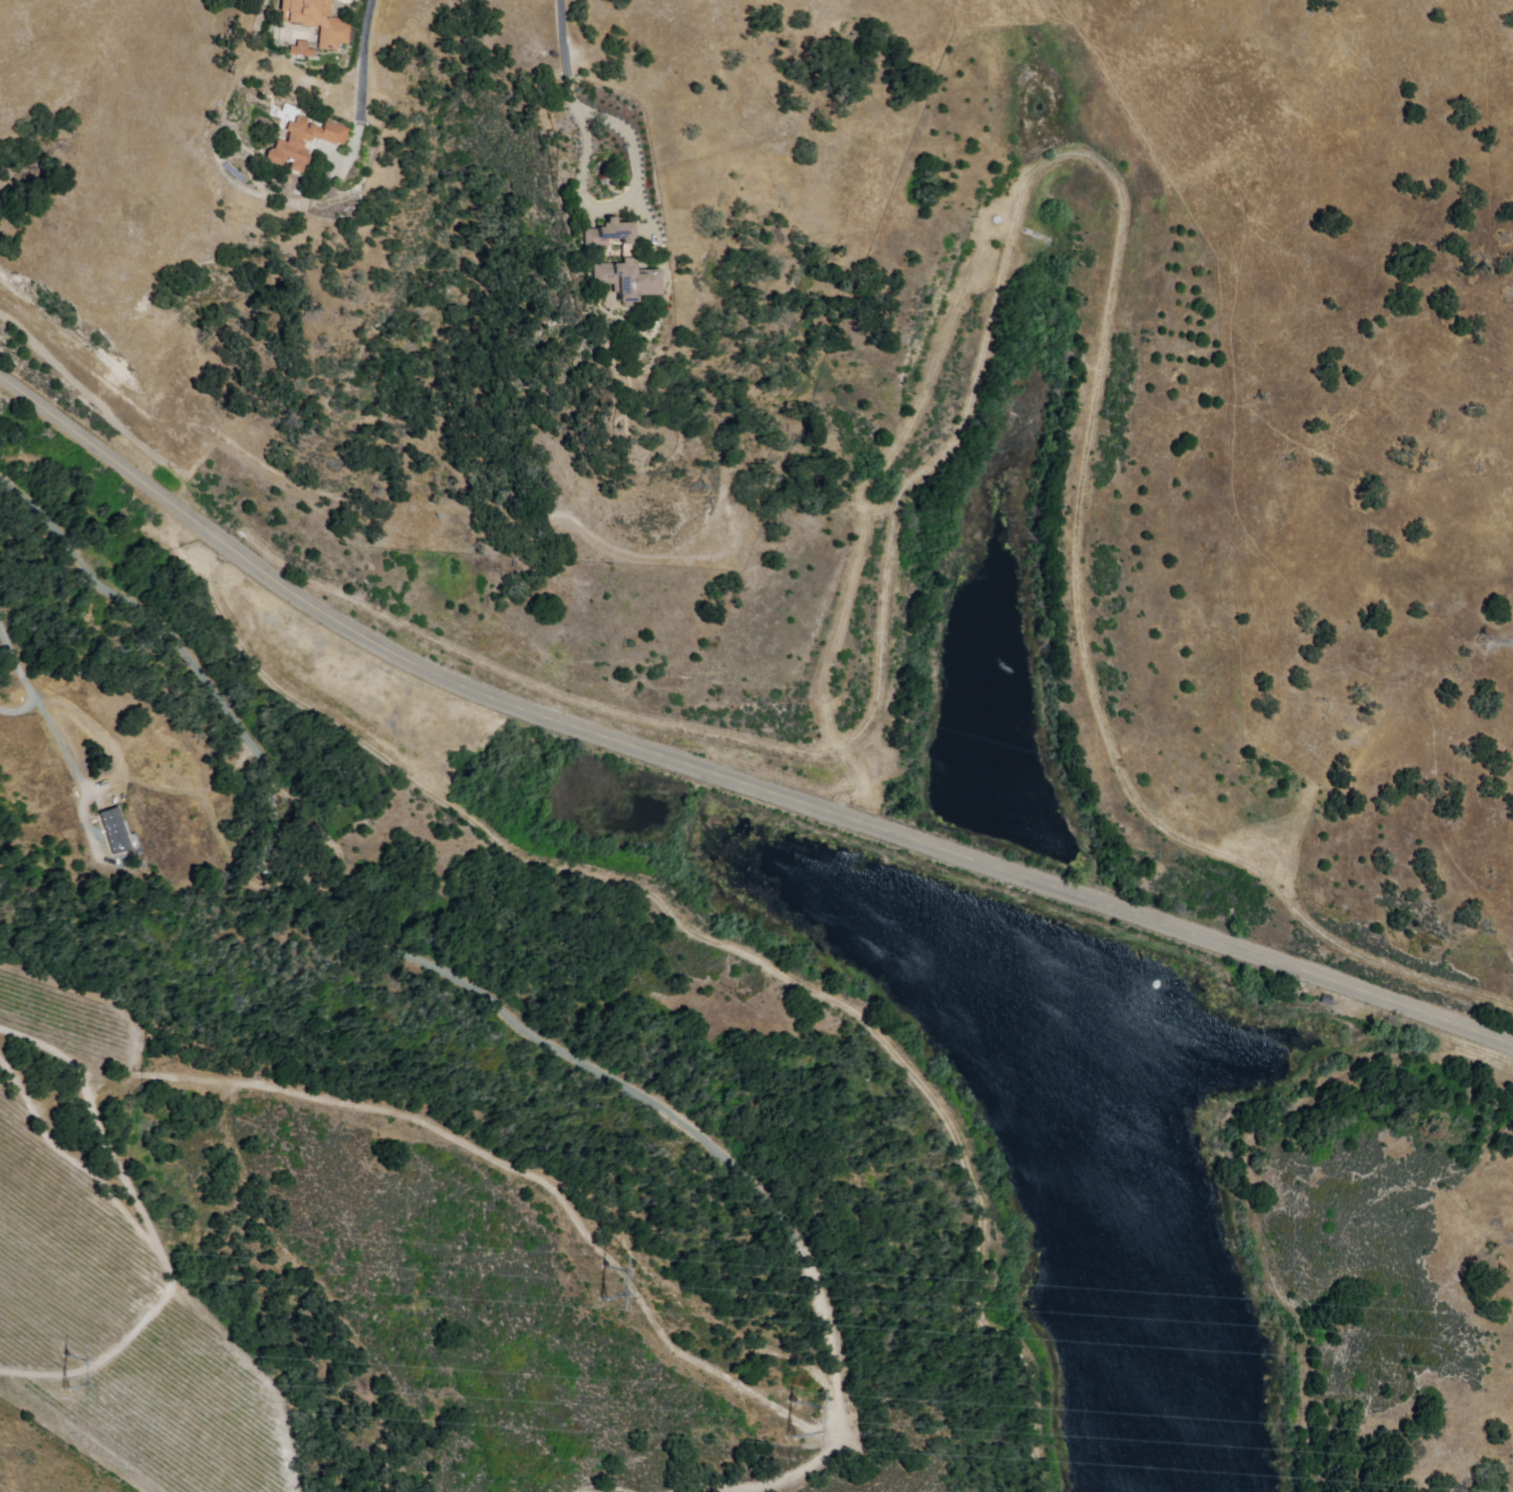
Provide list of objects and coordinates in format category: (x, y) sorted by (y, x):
building: (315, 21)
building: (300, 50)
road: (363, 60)
road: (575, 90)
building: (302, 144)
building: (618, 262)
power tower: (1486, 631)
road: (25, 680)
road: (723, 775)
road: (119, 778)
road: (196, 794)
building: (115, 830)
building: (267, 854)
road: (726, 945)
road: (422, 960)
road: (503, 1166)
road: (152, 1232)
power tower: (615, 1291)
power tower: (55, 1368)
power tower: (790, 1412)
road: (792, 1476)

